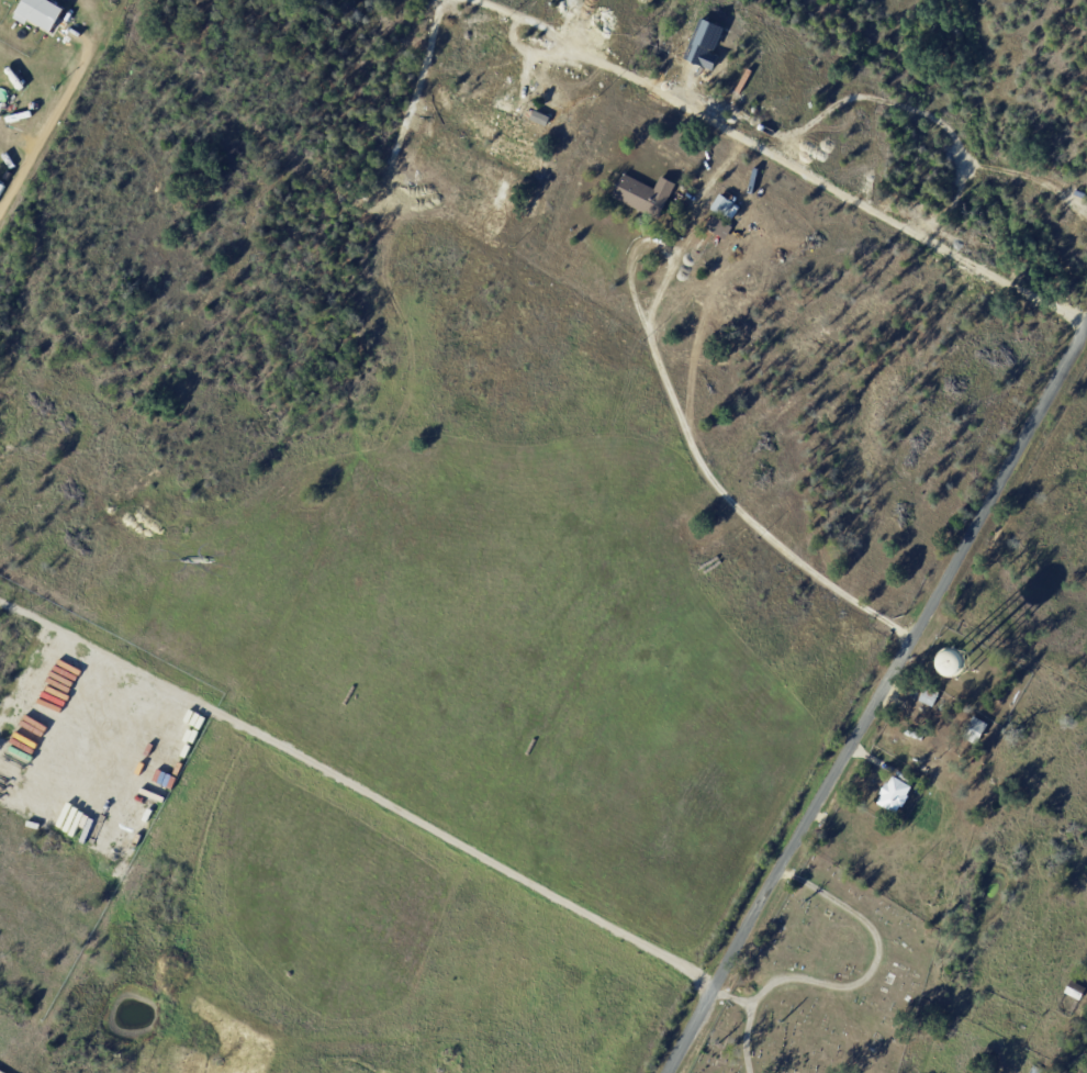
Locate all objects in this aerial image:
building: (43, 12)
road: (48, 125)
building: (643, 195)
building: (721, 205)
building: (719, 228)
road: (677, 418)
road: (874, 694)
building: (928, 695)
building: (941, 707)
building: (975, 730)
building: (893, 794)
road: (854, 979)
park: (820, 982)
building: (1075, 990)
building: (740, 991)
road: (740, 1039)
building: (1035, 1070)

